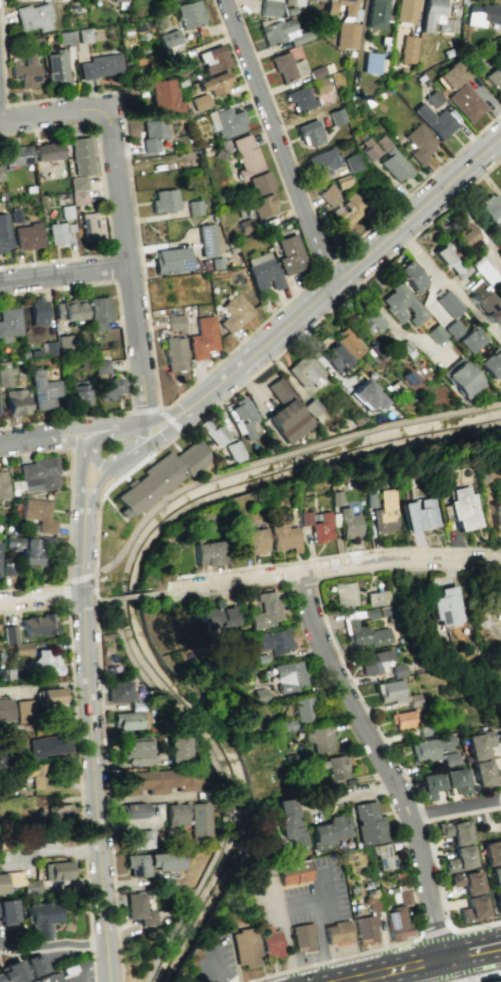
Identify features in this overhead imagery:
building: (119, 0)
building: (318, 0)
building: (287, 2)
building: (269, 7)
building: (349, 7)
building: (405, 11)
building: (189, 14)
building: (376, 14)
building: (482, 14)
building: (34, 16)
building: (436, 17)
building: (281, 32)
building: (83, 35)
building: (346, 35)
building: (65, 38)
building: (169, 38)
building: (408, 49)
building: (212, 59)
building: (175, 63)
building: (371, 63)
building: (100, 66)
building: (287, 66)
building: (56, 67)
building: (25, 71)
building: (451, 75)
building: (495, 80)
building: (214, 83)
building: (163, 97)
building: (299, 98)
building: (432, 98)
building: (199, 102)
building: (466, 102)
road: (3, 105)
road: (54, 115)
building: (336, 116)
building: (434, 121)
building: (228, 122)
building: (152, 133)
building: (309, 133)
road: (277, 143)
building: (418, 143)
building: (368, 148)
building: (47, 151)
building: (245, 154)
building: (16, 155)
building: (80, 155)
building: (324, 161)
building: (353, 162)
building: (394, 166)
building: (77, 183)
building: (256, 183)
building: (328, 192)
road: (103, 194)
building: (78, 197)
building: (164, 200)
building: (263, 205)
building: (193, 207)
building: (492, 210)
building: (347, 211)
building: (90, 226)
building: (3, 233)
building: (56, 233)
building: (26, 236)
road: (322, 236)
building: (467, 238)
building: (206, 240)
building: (290, 254)
building: (170, 260)
building: (450, 260)
road: (128, 265)
road: (323, 267)
building: (263, 271)
building: (484, 272)
road: (64, 274)
building: (410, 276)
road: (337, 280)
road: (448, 283)
building: (485, 302)
building: (448, 303)
building: (401, 304)
building: (67, 309)
building: (37, 311)
building: (97, 312)
building: (234, 312)
building: (9, 323)
building: (174, 323)
building: (369, 323)
building: (453, 328)
building: (202, 337)
building: (468, 339)
building: (348, 343)
building: (57, 345)
road: (272, 351)
building: (174, 353)
road: (123, 354)
building: (335, 357)
building: (491, 364)
building: (100, 367)
building: (305, 373)
building: (4, 374)
building: (462, 379)
building: (109, 388)
building: (43, 390)
building: (78, 393)
road: (156, 395)
building: (364, 395)
building: (15, 402)
road: (159, 409)
building: (283, 413)
road: (157, 423)
road: (113, 429)
building: (209, 430)
road: (151, 437)
road: (138, 438)
road: (41, 439)
building: (230, 451)
road: (95, 460)
road: (122, 460)
road: (281, 460)
building: (39, 474)
road: (81, 474)
road: (70, 478)
building: (160, 479)
building: (3, 484)
road: (95, 490)
park: (158, 509)
building: (463, 509)
building: (387, 512)
building: (38, 514)
building: (420, 515)
building: (349, 523)
building: (317, 525)
building: (283, 537)
building: (252, 540)
road: (81, 546)
building: (0, 547)
building: (25, 548)
building: (206, 553)
road: (338, 553)
road: (350, 563)
road: (93, 573)
road: (86, 575)
road: (73, 579)
road: (65, 581)
road: (32, 585)
road: (93, 587)
road: (178, 591)
road: (67, 592)
road: (54, 593)
building: (344, 593)
road: (15, 598)
road: (124, 598)
building: (379, 598)
road: (93, 601)
road: (80, 602)
road: (67, 603)
road: (94, 603)
building: (446, 607)
building: (266, 610)
building: (216, 615)
building: (37, 625)
building: (365, 628)
building: (8, 634)
building: (273, 640)
building: (20, 649)
building: (262, 658)
building: (373, 660)
building: (43, 664)
building: (399, 670)
building: (289, 675)
building: (116, 691)
road: (357, 693)
building: (397, 693)
building: (260, 695)
building: (51, 696)
building: (24, 709)
building: (303, 709)
building: (5, 711)
building: (403, 719)
building: (126, 720)
building: (285, 724)
building: (425, 730)
building: (318, 738)
building: (479, 743)
building: (48, 745)
road: (76, 746)
building: (174, 748)
building: (435, 750)
building: (137, 751)
road: (380, 762)
building: (333, 766)
building: (486, 773)
building: (36, 776)
road: (107, 777)
road: (93, 779)
building: (157, 781)
road: (219, 782)
building: (443, 782)
road: (454, 809)
building: (132, 810)
building: (59, 813)
road: (462, 813)
building: (188, 818)
building: (368, 823)
building: (288, 824)
building: (453, 830)
building: (328, 832)
building: (136, 839)
building: (491, 851)
building: (383, 857)
building: (459, 858)
building: (150, 862)
building: (57, 870)
building: (293, 876)
building: (254, 877)
building: (495, 877)
building: (10, 880)
building: (466, 881)
parking lot: (305, 896)
building: (403, 897)
building: (497, 901)
building: (472, 908)
building: (138, 909)
road: (280, 910)
building: (7, 912)
building: (40, 919)
building: (396, 924)
building: (365, 928)
building: (336, 932)
road: (434, 932)
building: (303, 938)
building: (270, 941)
road: (318, 941)
road: (469, 943)
building: (245, 946)
road: (52, 947)
road: (333, 959)
road: (471, 961)
parking lot: (214, 962)
building: (34, 964)
road: (121, 966)
road: (90, 968)
road: (93, 968)
road: (215, 968)
road: (395, 970)
building: (11, 971)
road: (443, 971)
road: (470, 972)
road: (476, 976)
road: (388, 977)
building: (51, 978)
parking lot: (79, 979)
building: (495, 980)

